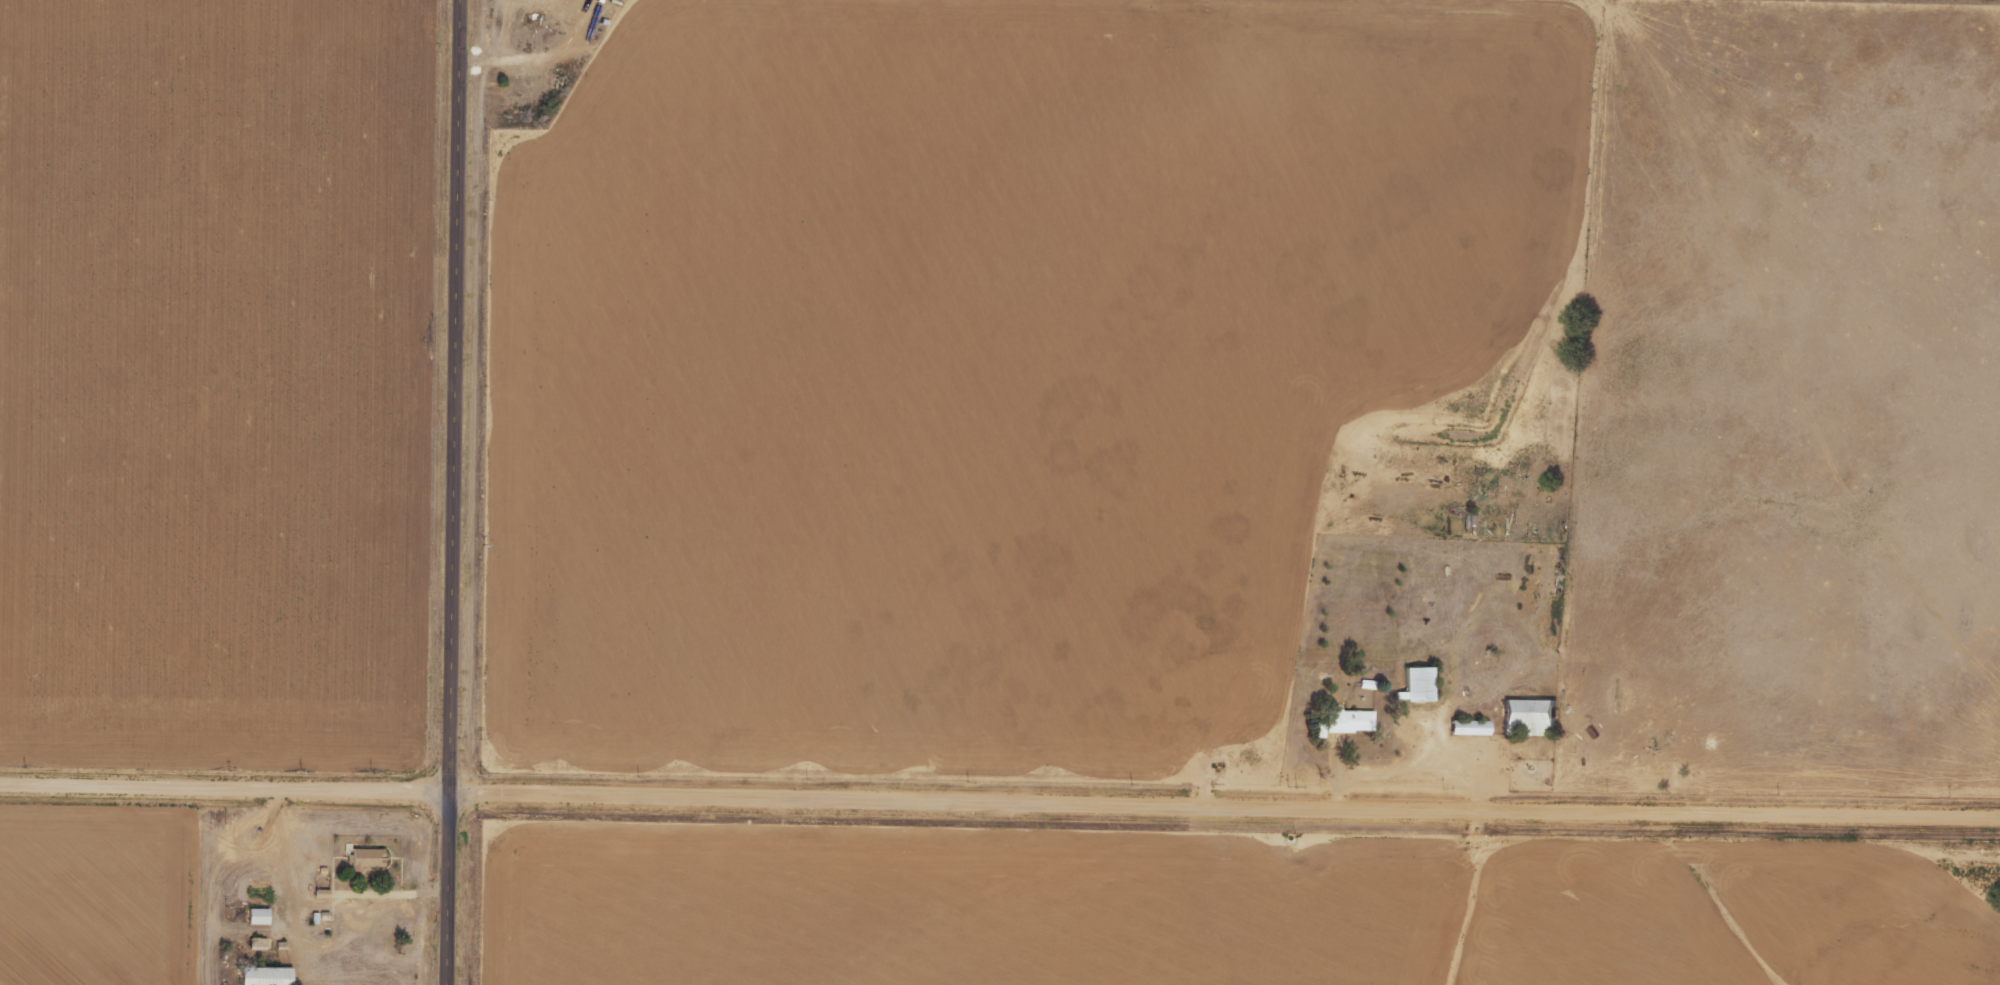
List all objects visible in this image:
road: (456, 492)
building: (1418, 684)
building: (1530, 717)
building: (1347, 722)
building: (1470, 727)
road: (1000, 797)

